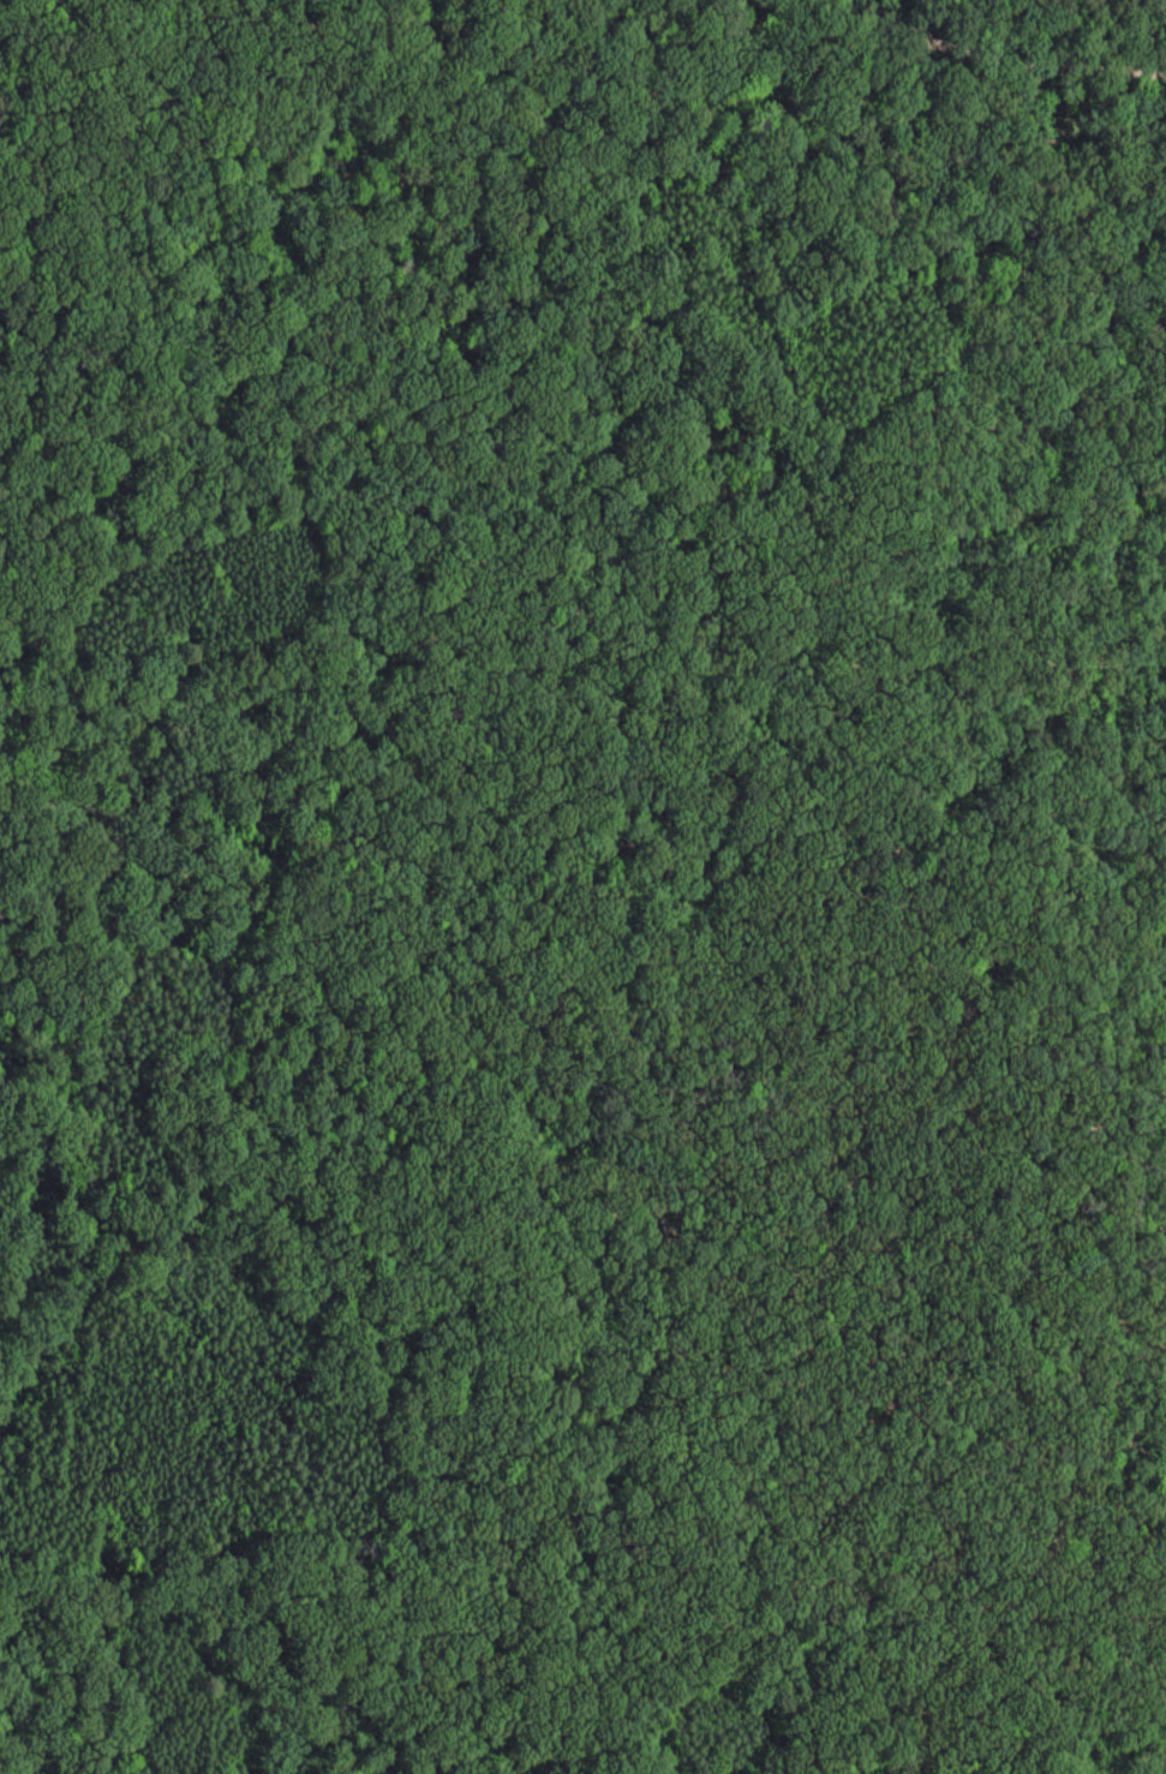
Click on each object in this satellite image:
road: (56, 10)
road: (963, 38)
road: (1117, 68)
road: (633, 71)

